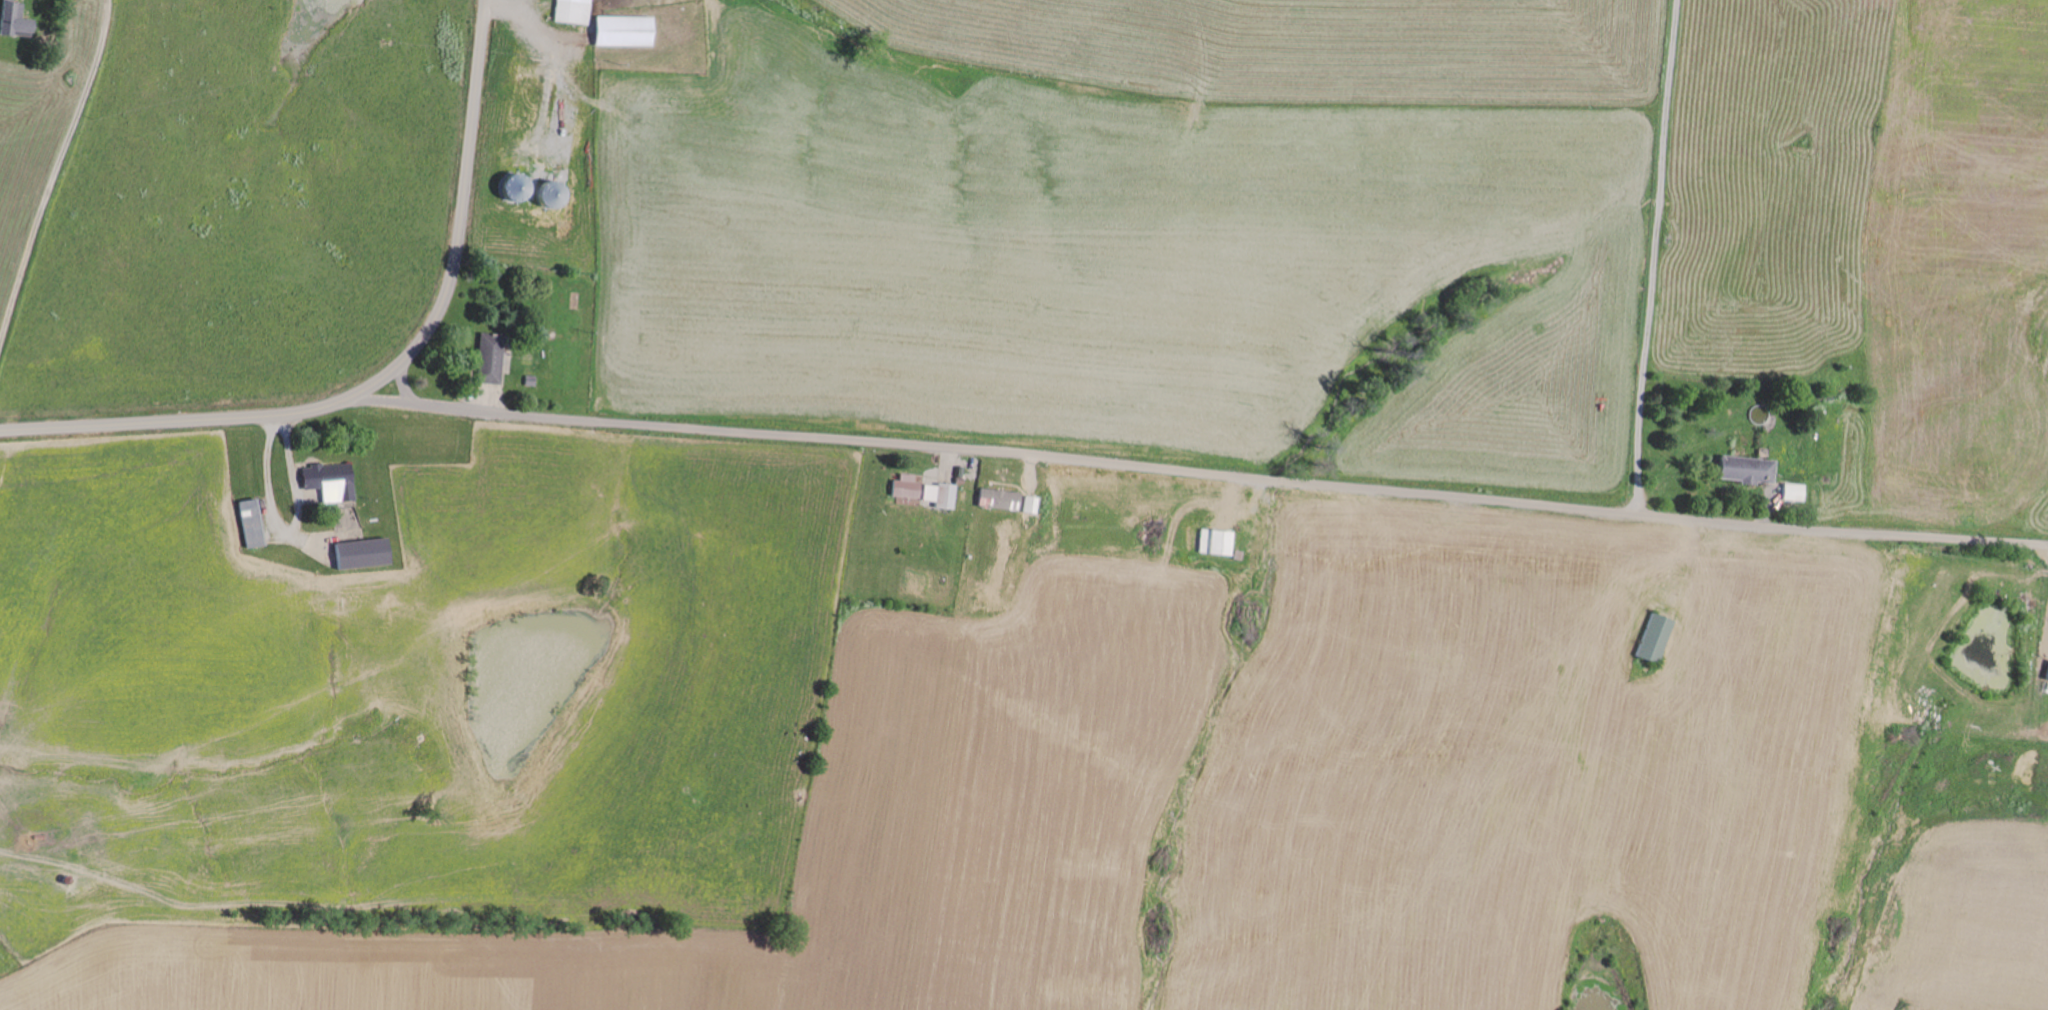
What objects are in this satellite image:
building: (572, 11)
building: (13, 19)
building: (623, 30)
road: (38, 126)
building: (514, 186)
building: (551, 193)
road: (1599, 254)
building: (489, 357)
road: (388, 373)
building: (1745, 469)
road: (1205, 473)
building: (330, 481)
building: (903, 485)
building: (1790, 491)
building: (936, 494)
building: (996, 497)
building: (1027, 504)
building: (251, 522)
building: (1213, 541)
building: (362, 552)
building: (1654, 637)
building: (2047, 676)

